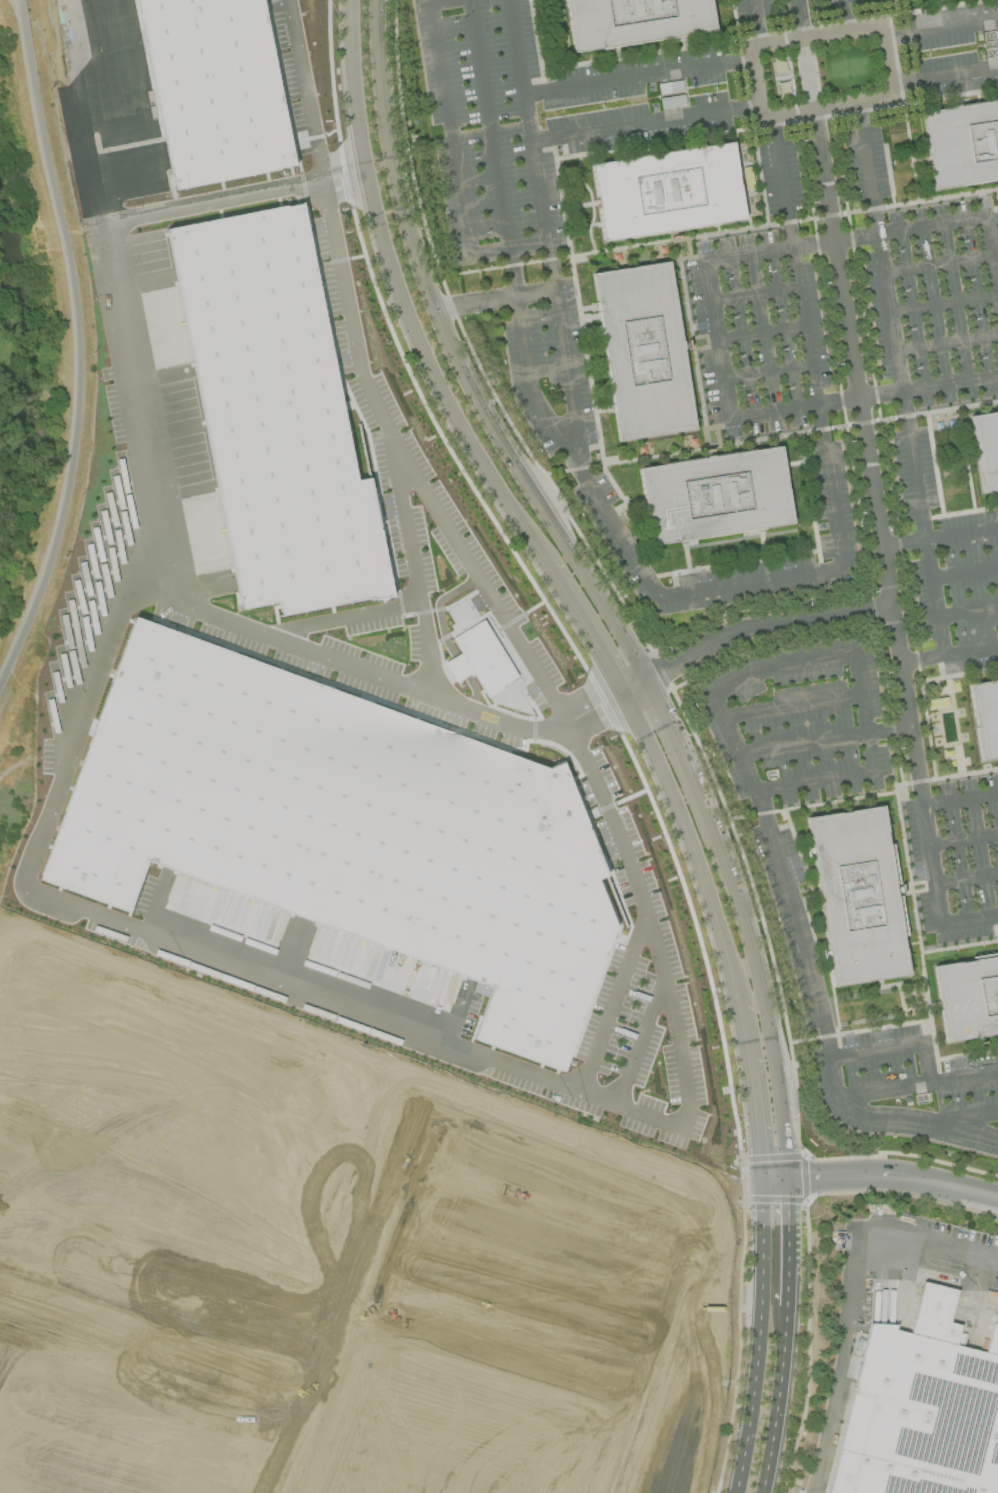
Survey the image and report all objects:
road: (18, 11)
road: (844, 15)
road: (803, 18)
road: (757, 21)
building: (633, 22)
road: (941, 31)
road: (827, 32)
road: (944, 71)
road: (812, 73)
road: (639, 79)
building: (215, 88)
road: (303, 94)
building: (672, 101)
road: (95, 116)
road: (646, 122)
road: (776, 123)
road: (448, 129)
building: (962, 143)
building: (89, 146)
road: (408, 157)
road: (782, 181)
road: (344, 185)
building: (667, 192)
road: (213, 202)
road: (969, 219)
road: (719, 232)
road: (858, 237)
road: (508, 240)
road: (938, 263)
road: (756, 292)
road: (399, 297)
road: (493, 300)
road: (945, 304)
road: (762, 333)
road: (582, 334)
road: (719, 337)
road: (948, 345)
road: (82, 348)
building: (643, 351)
road: (454, 361)
river: (31, 363)
road: (768, 370)
road: (903, 380)
road: (951, 383)
road: (882, 393)
building: (273, 414)
road: (766, 438)
road: (884, 446)
building: (986, 448)
road: (849, 452)
road: (869, 458)
road: (793, 463)
building: (714, 495)
road: (423, 498)
road: (809, 498)
road: (408, 533)
road: (940, 537)
road: (762, 543)
road: (629, 548)
road: (686, 555)
road: (736, 562)
road: (966, 574)
road: (393, 607)
road: (197, 608)
road: (969, 613)
road: (583, 628)
road: (750, 630)
road: (950, 656)
road: (845, 657)
building: (480, 659)
road: (959, 674)
road: (791, 705)
building: (986, 716)
road: (889, 730)
road: (803, 743)
road: (678, 750)
road: (812, 805)
road: (681, 825)
building: (342, 828)
road: (963, 834)
road: (930, 858)
road: (965, 878)
building: (857, 896)
road: (912, 901)
road: (959, 946)
road: (730, 981)
road: (761, 998)
building: (968, 998)
road: (610, 1004)
road: (374, 1018)
road: (824, 1023)
road: (859, 1031)
road: (638, 1041)
road: (896, 1048)
road: (189, 1055)
road: (344, 1068)
road: (918, 1084)
road: (751, 1090)
road: (49, 1109)
road: (966, 1117)
road: (899, 1153)
traffic signals: (758, 1154)
road: (204, 1176)
road: (838, 1177)
traffic signals: (809, 1179)
road: (773, 1181)
road: (945, 1188)
traffic signals: (787, 1202)
road: (341, 1215)
road: (67, 1217)
road: (786, 1242)
road: (108, 1272)
road: (203, 1292)
road: (850, 1296)
building: (503, 1324)
road: (250, 1336)
road: (757, 1338)
road: (675, 1341)
road: (776, 1399)
building: (920, 1410)
road: (222, 1415)
road: (266, 1422)
road: (17, 1486)

